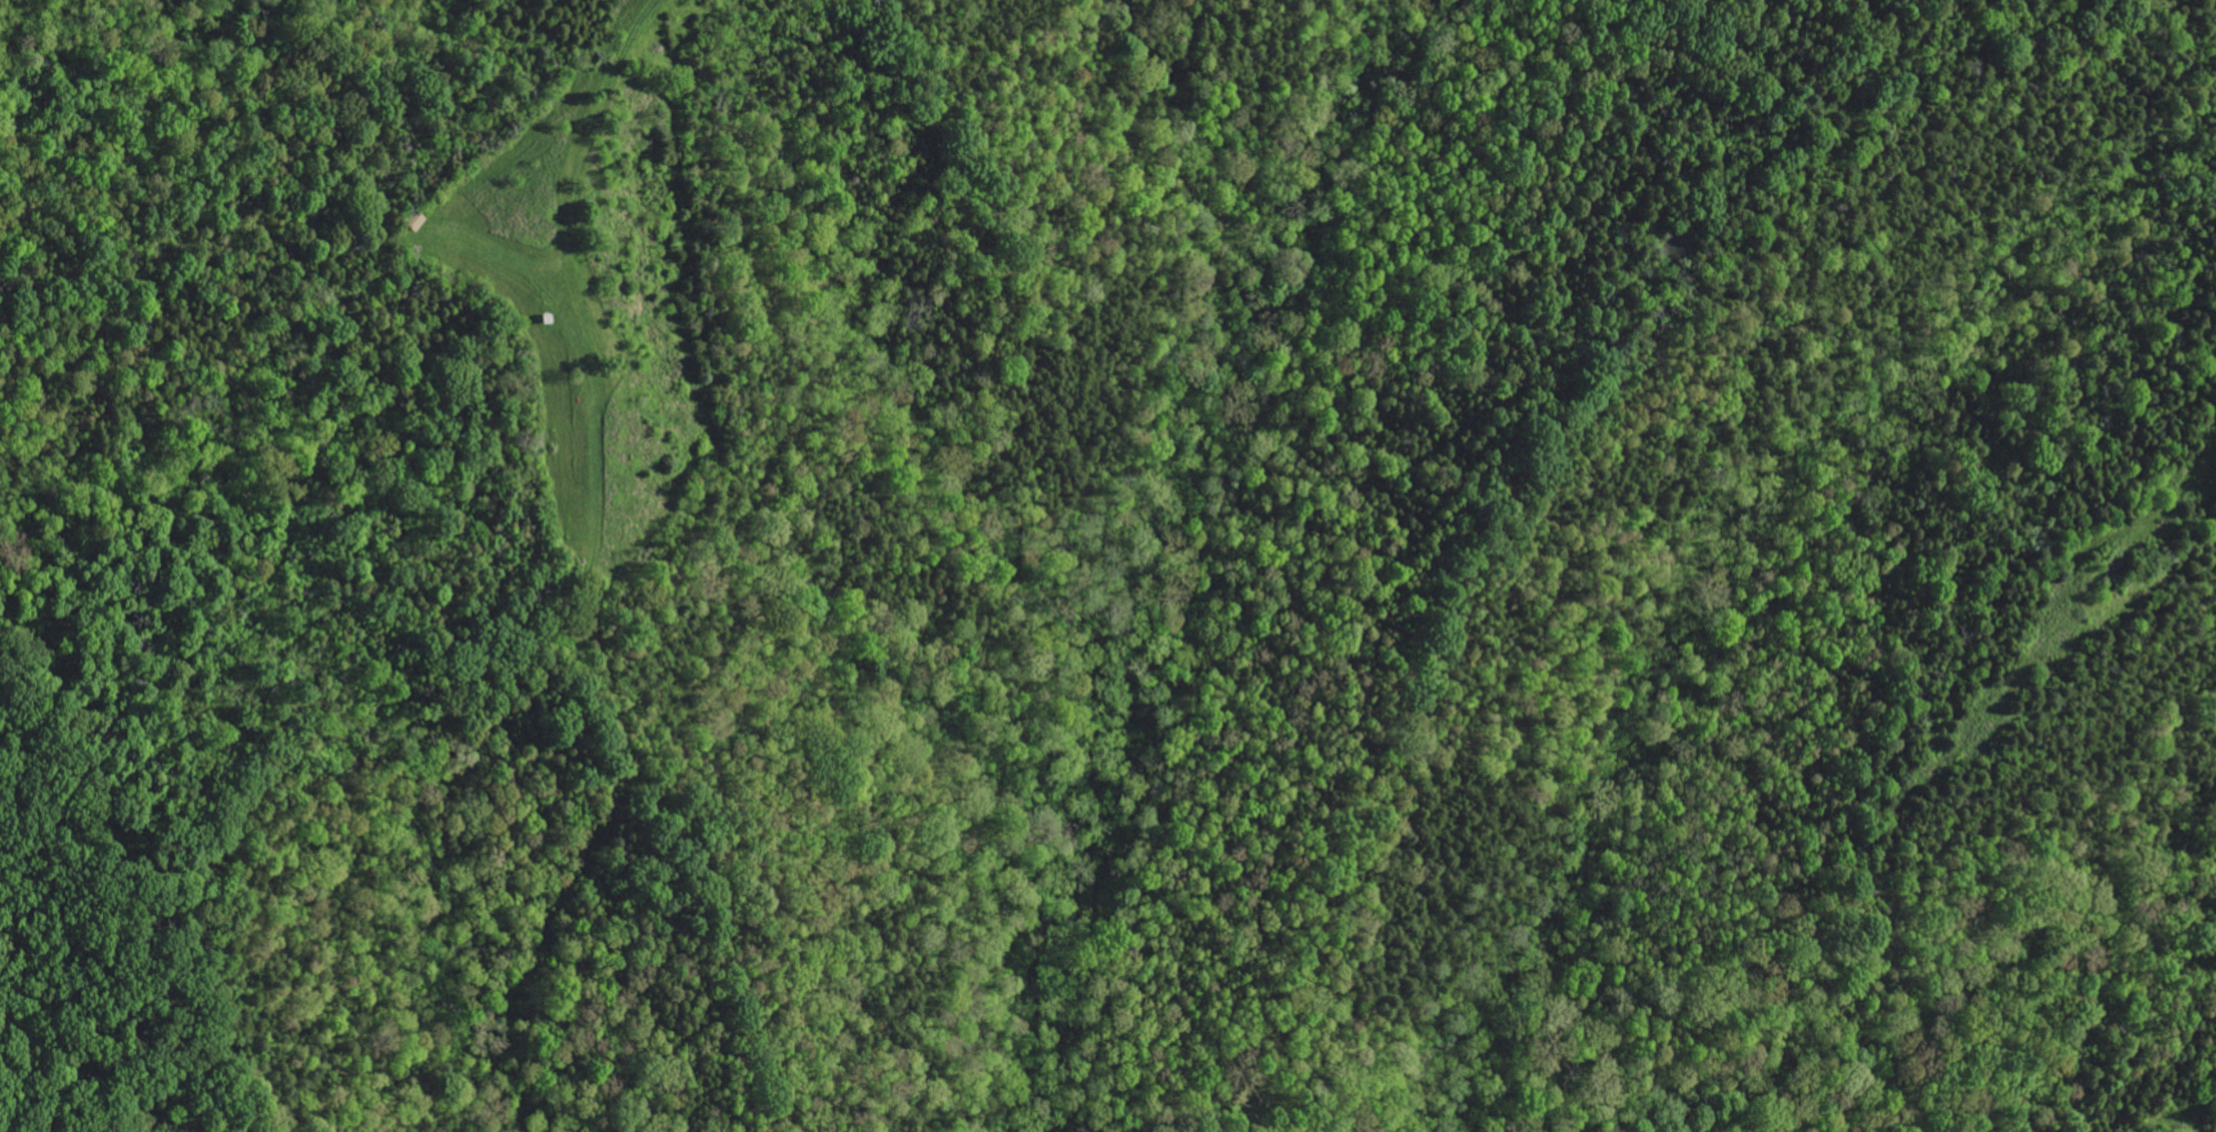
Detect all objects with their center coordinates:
road: (2209, 1125)

